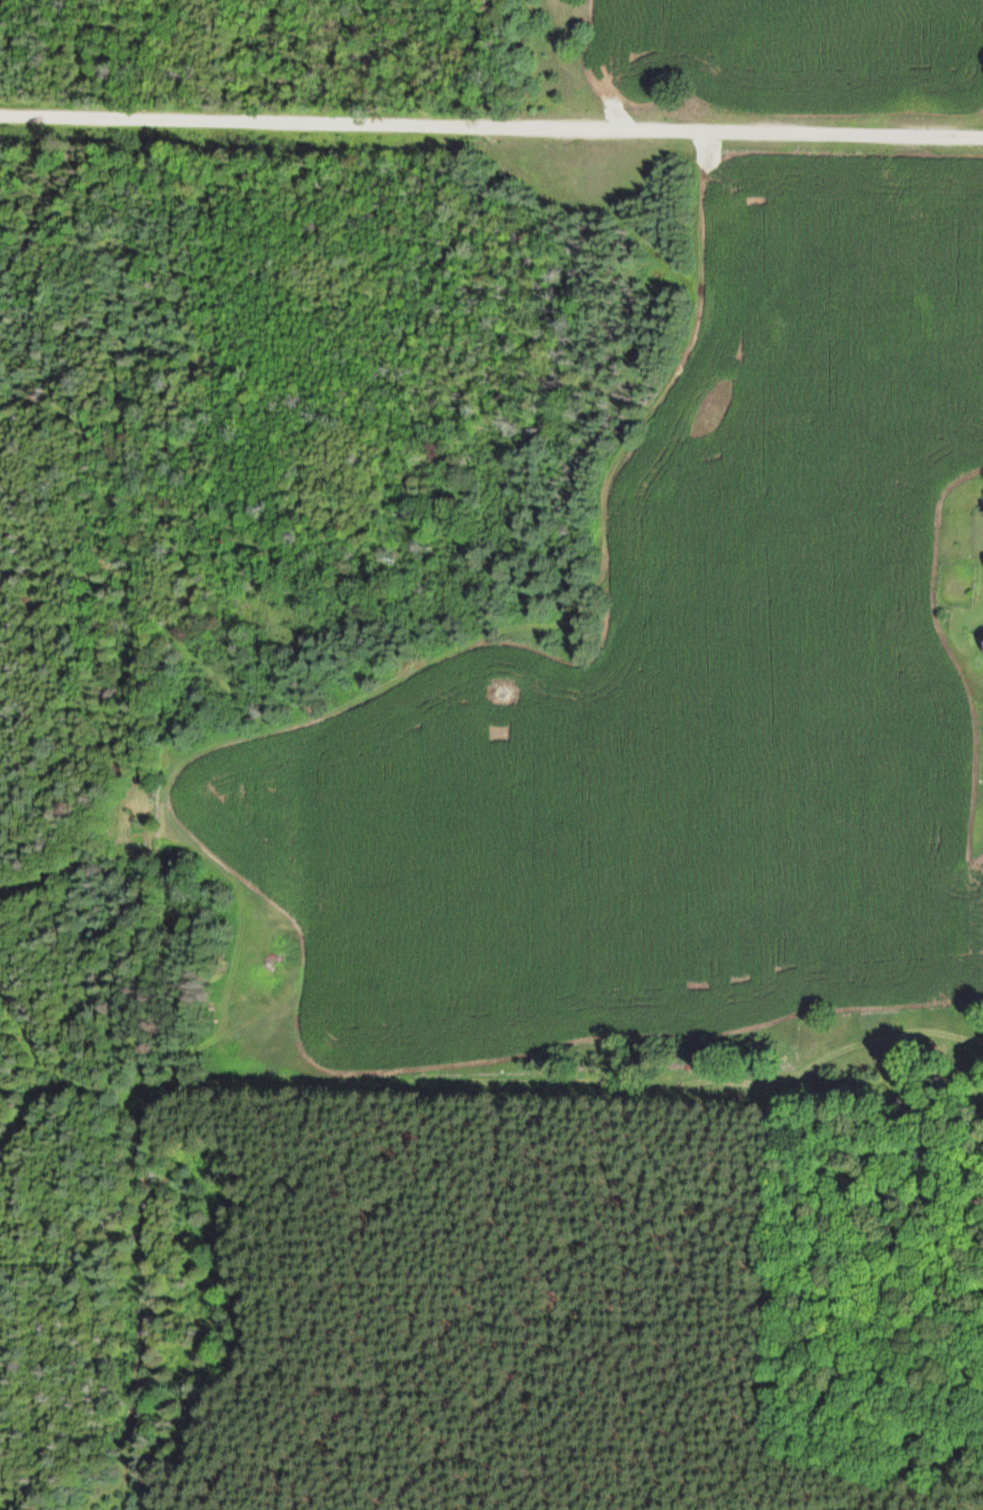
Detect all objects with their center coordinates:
road: (491, 125)

